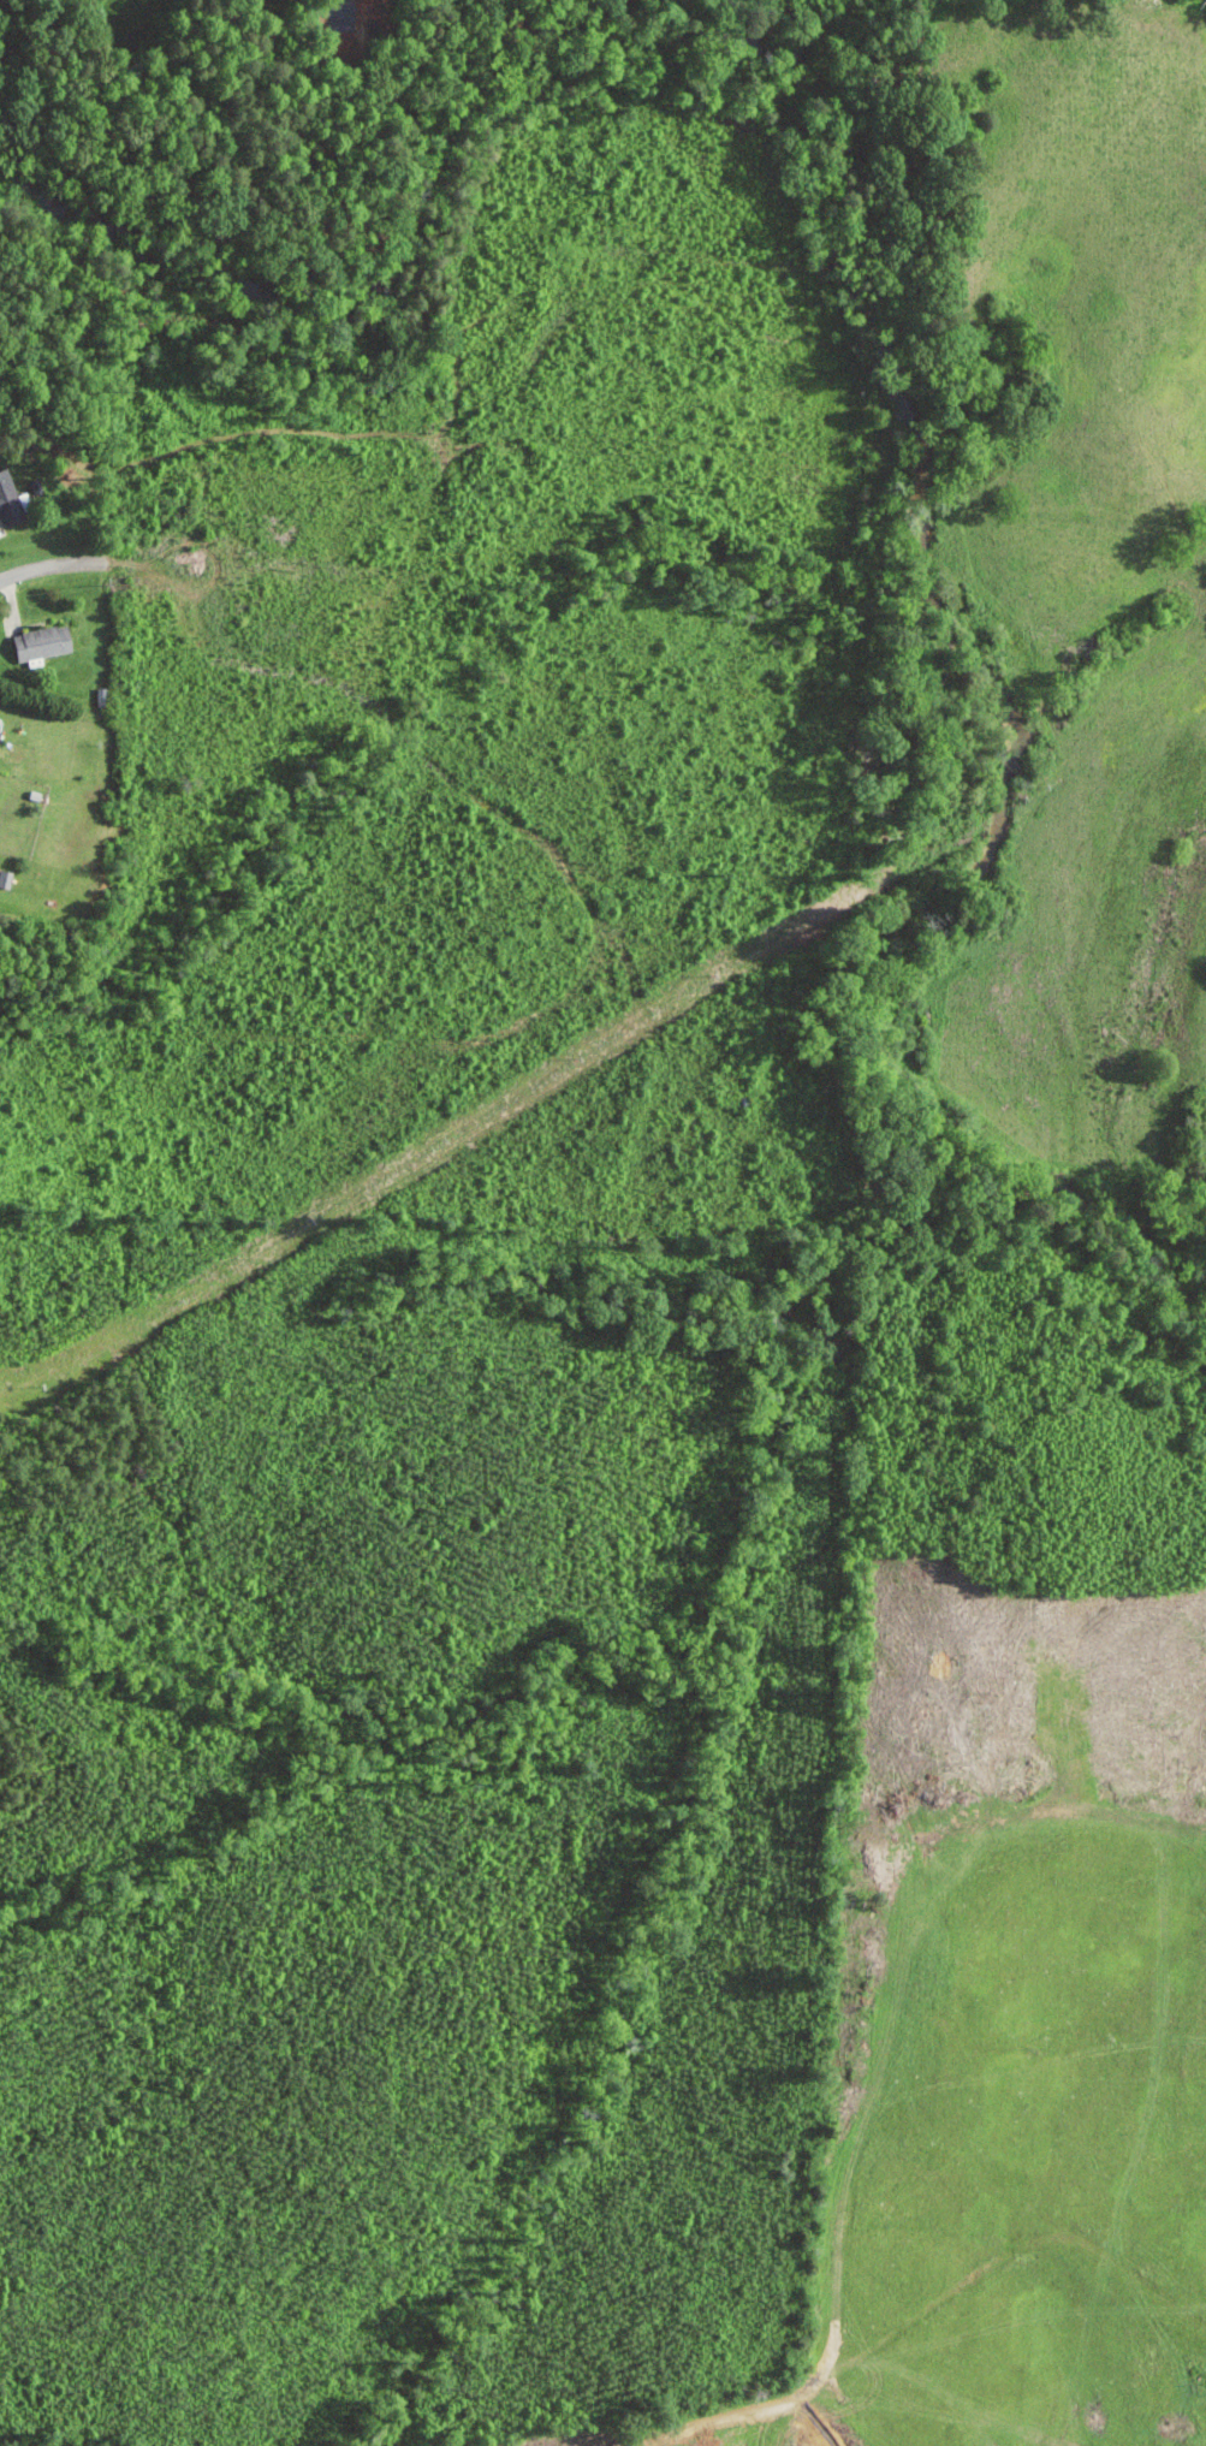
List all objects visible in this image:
building: (11, 500)
road: (61, 563)
building: (1, 723)

